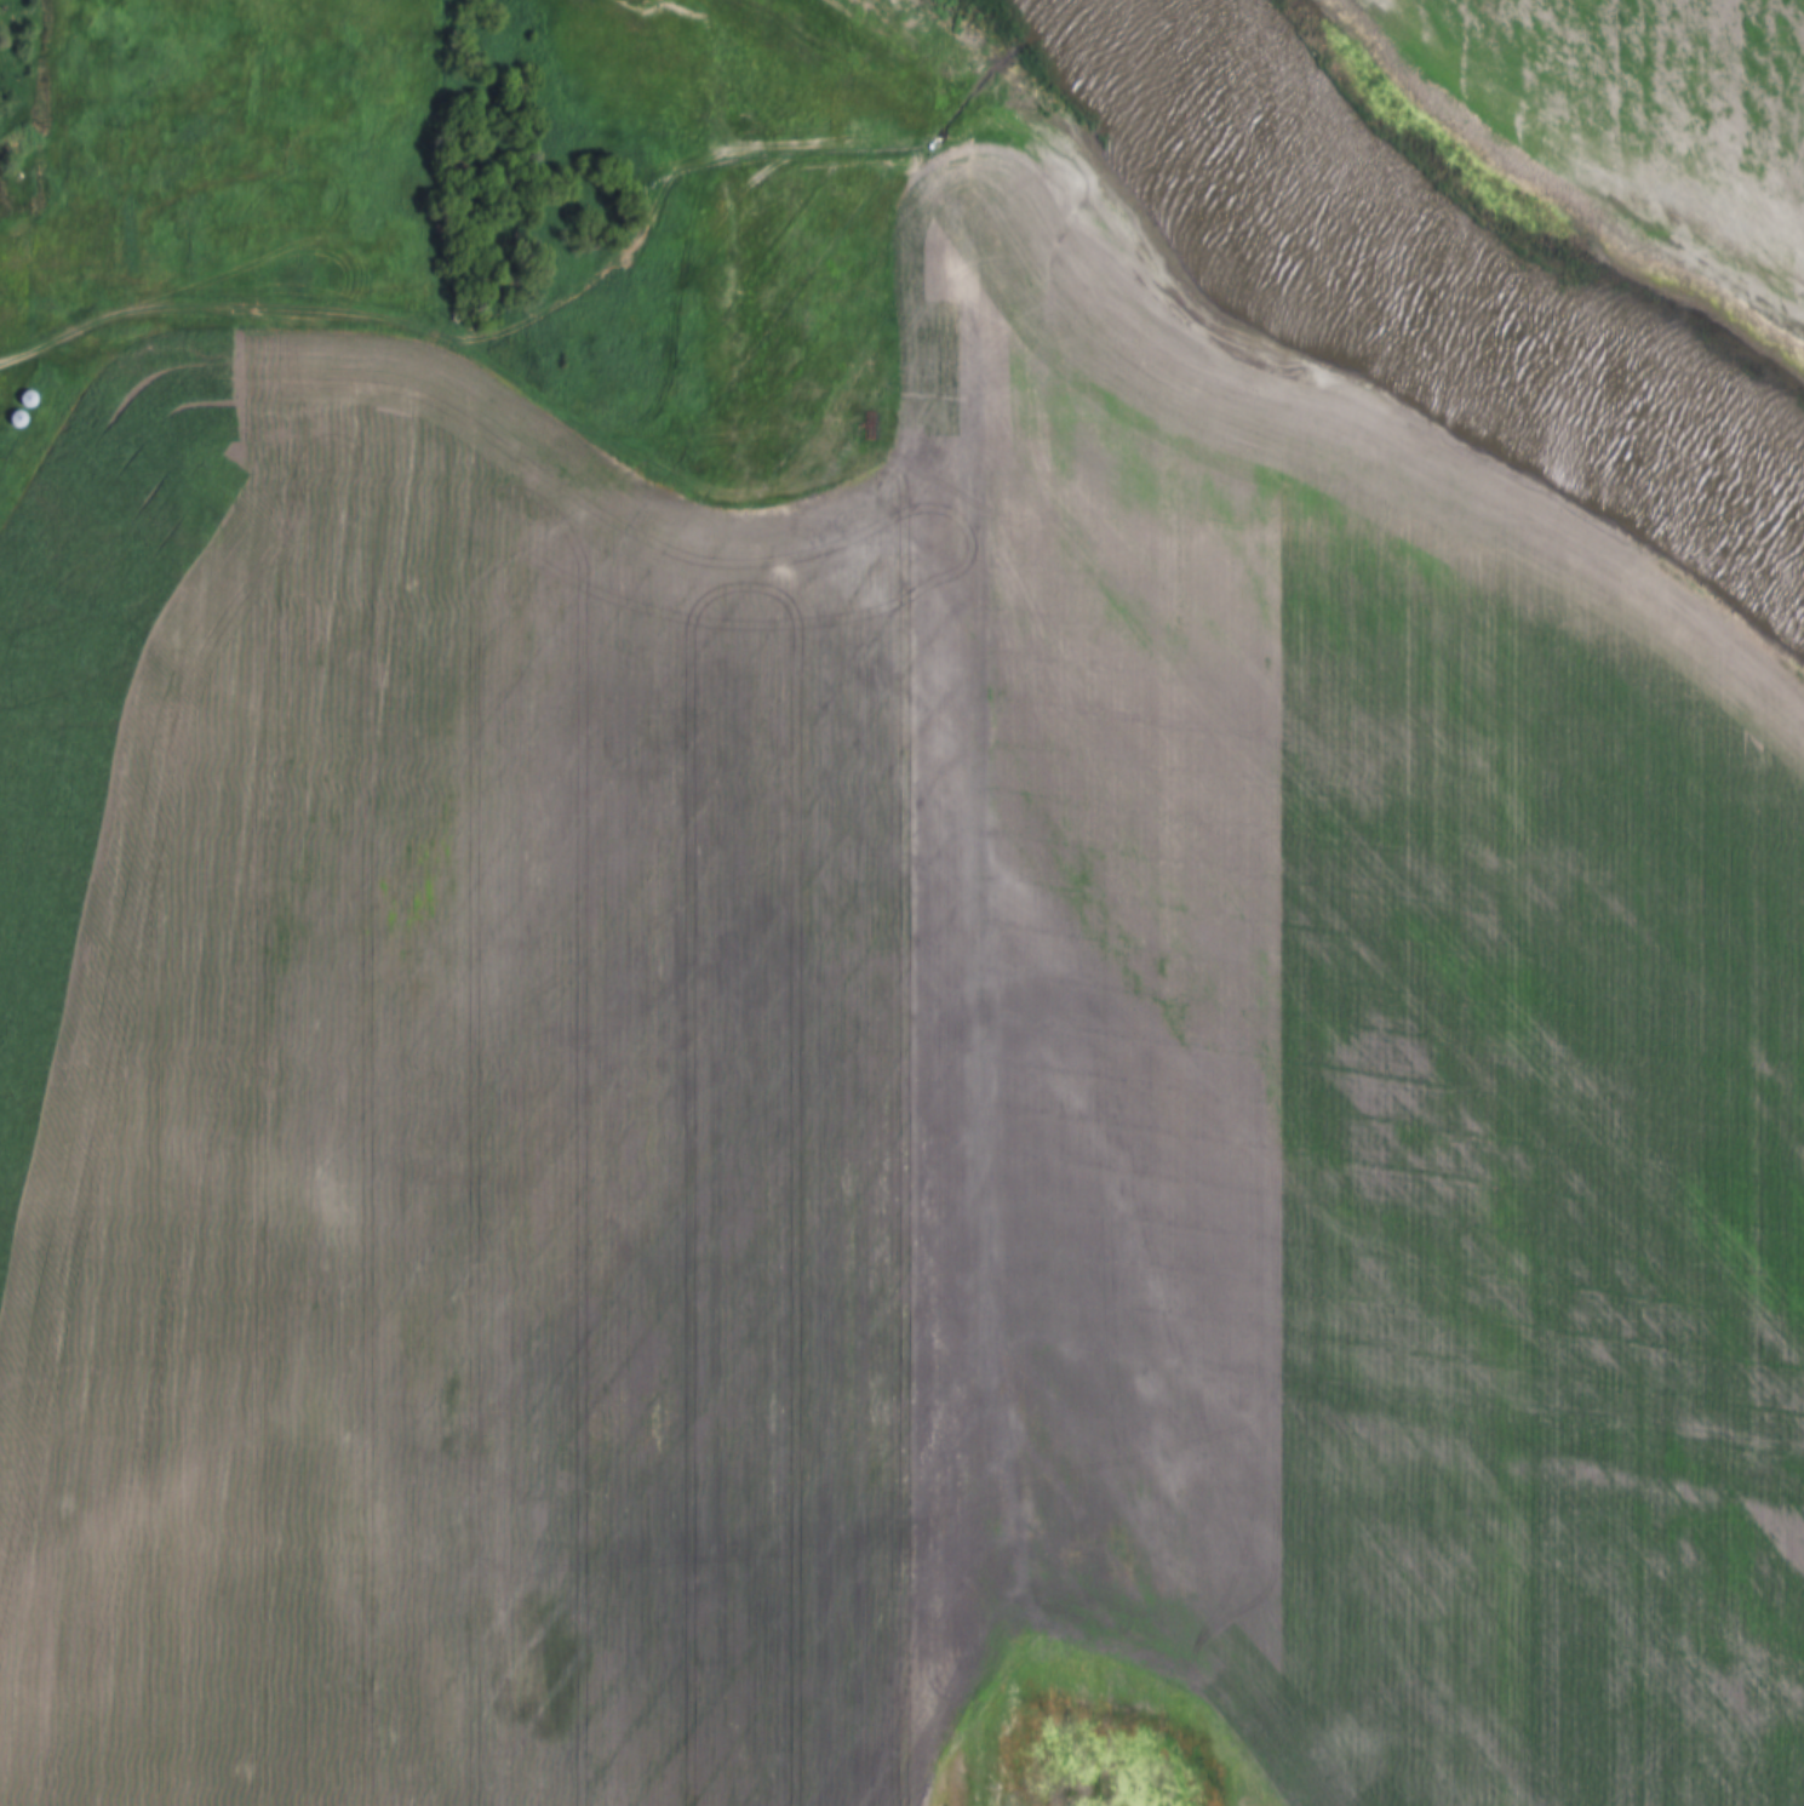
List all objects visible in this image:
river: (1451, 304)
building: (25, 399)
building: (16, 418)

